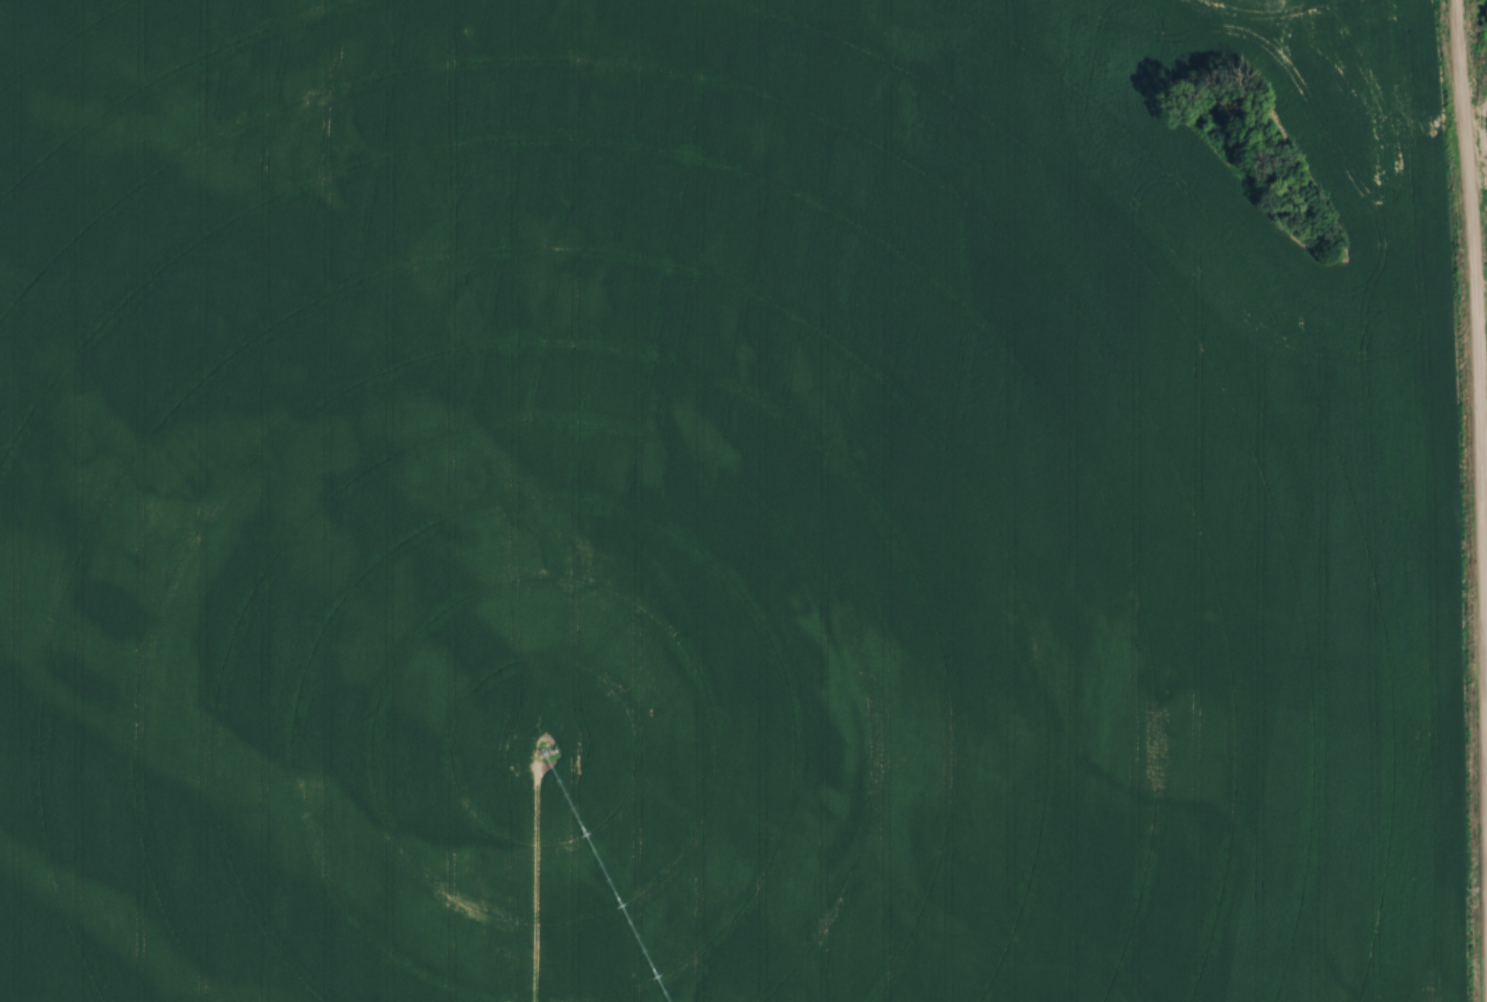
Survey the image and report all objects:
road: (1477, 408)
road: (1484, 585)
road: (1486, 658)

